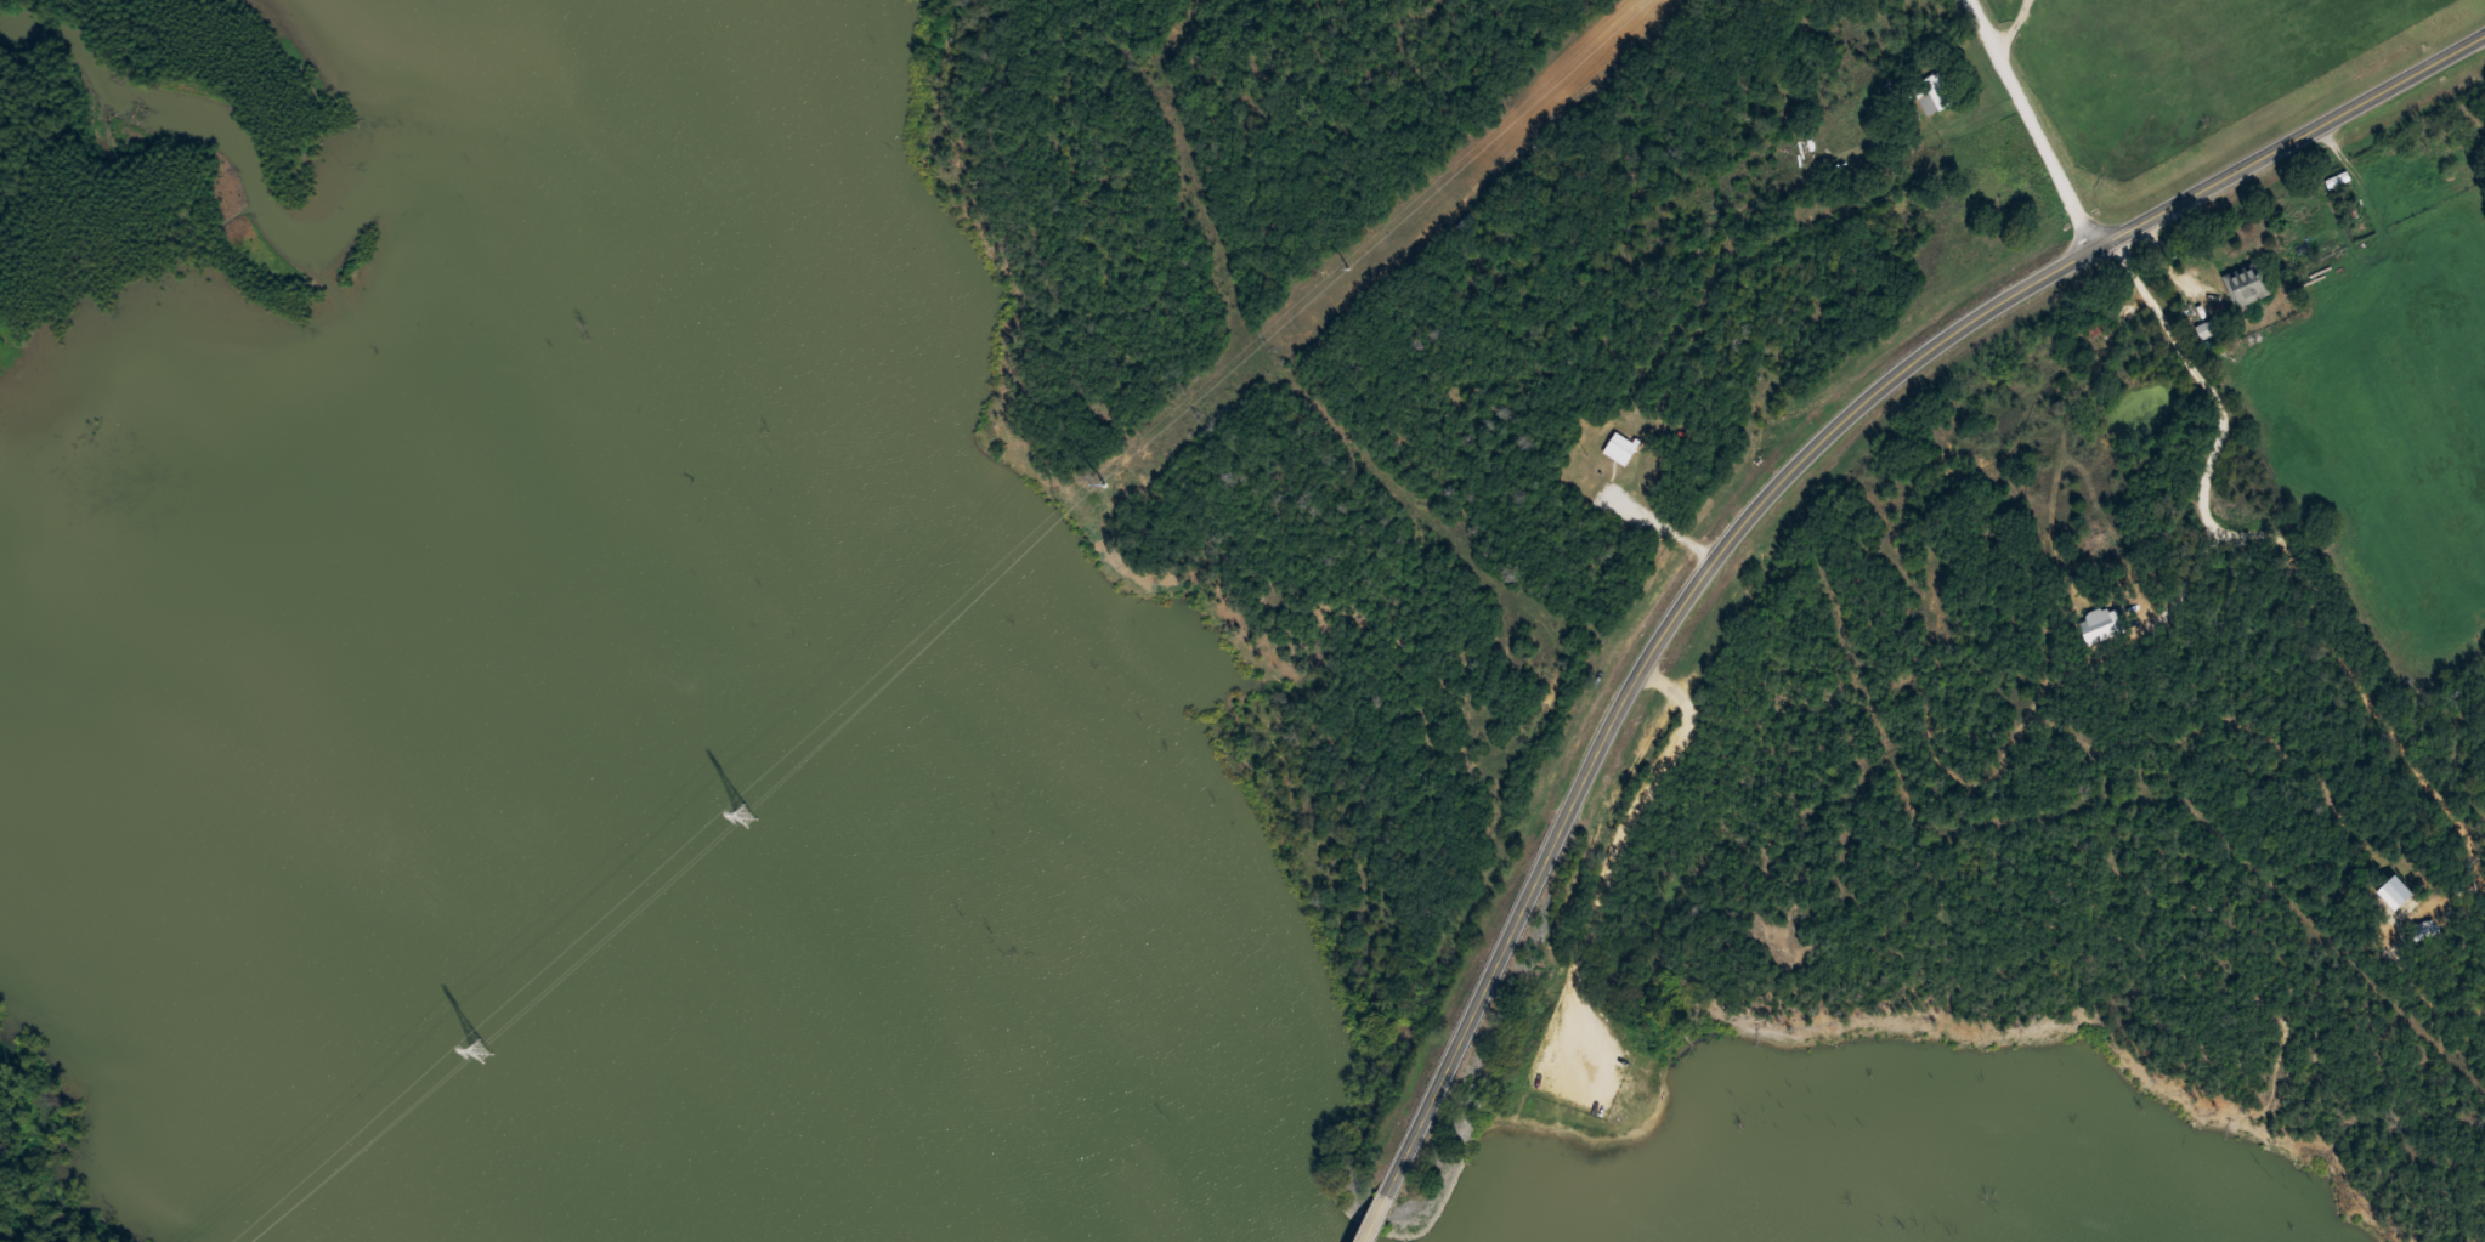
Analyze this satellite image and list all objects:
building: (1934, 92)
road: (2040, 124)
building: (2251, 284)
building: (2211, 328)
building: (1621, 448)
road: (1776, 489)
road: (1662, 527)
power tower: (741, 807)
power tower: (479, 1042)
road: (1368, 1235)

